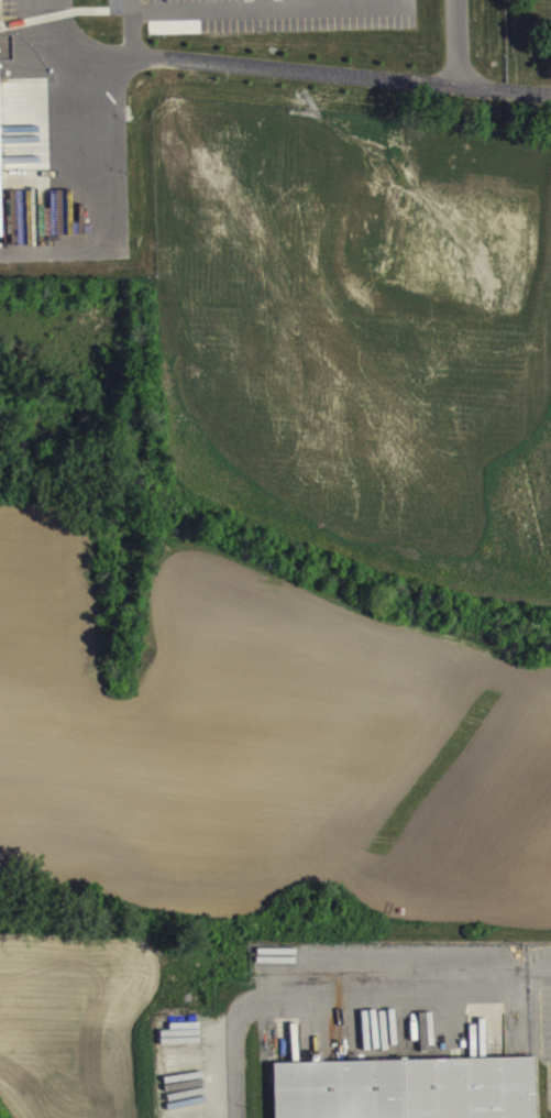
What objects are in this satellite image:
road: (283, 79)
road: (437, 987)
parking lot: (392, 1004)
building: (406, 1087)

